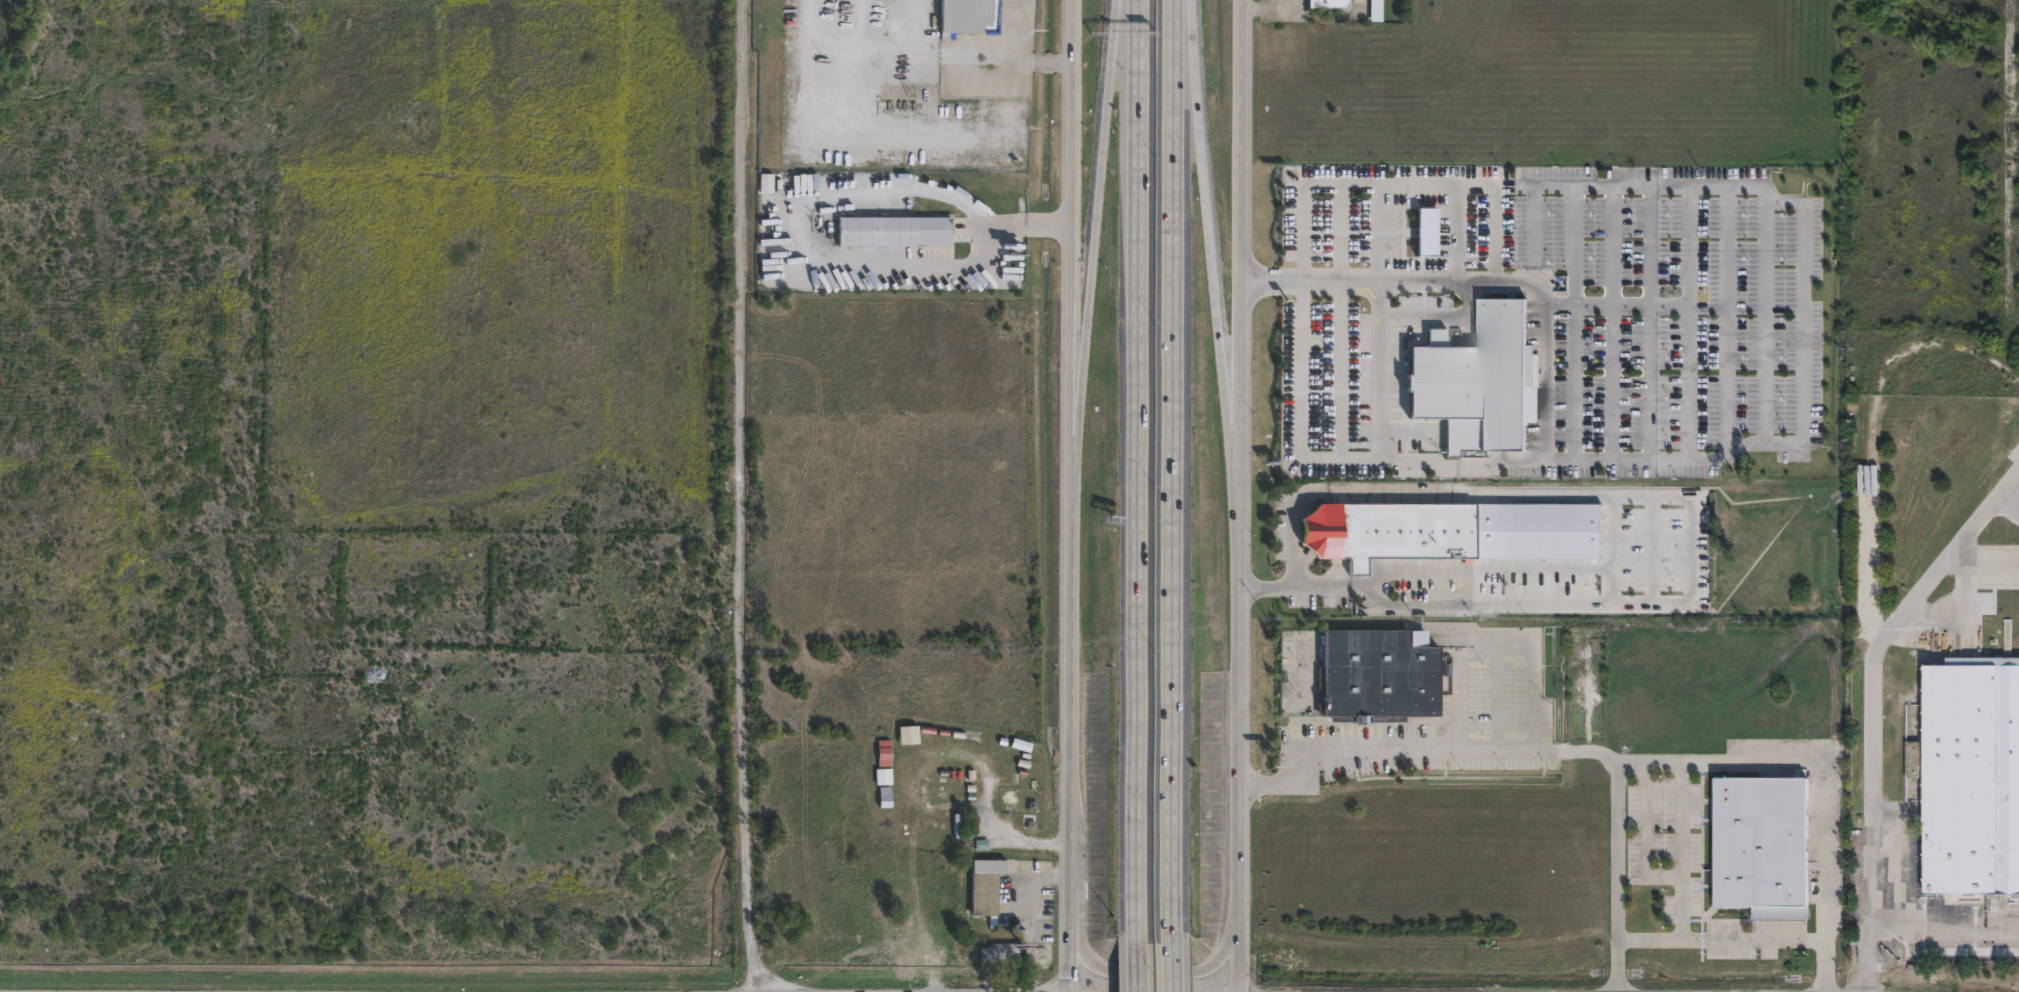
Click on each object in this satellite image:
building: (1330, 4)
building: (1378, 10)
road: (1264, 11)
building: (970, 18)
railway: (2008, 154)
road: (1403, 184)
road: (1594, 184)
road: (1015, 218)
road: (1380, 232)
road: (1457, 232)
building: (895, 233)
road: (1208, 235)
road: (1094, 240)
road: (802, 269)
road: (1765, 316)
road: (1726, 320)
road: (1438, 321)
road: (1340, 323)
road: (1379, 371)
building: (1267, 373)
road: (1544, 379)
road: (1575, 382)
road: (1613, 383)
road: (1648, 384)
building: (1476, 386)
road: (1875, 425)
road: (1689, 456)
road: (1406, 462)
road: (1138, 466)
road: (1174, 466)
road: (1067, 495)
road: (1237, 495)
road: (742, 496)
building: (1447, 533)
road: (1689, 540)
building: (1966, 547)
road: (1603, 549)
road: (1480, 572)
road: (1500, 642)
building: (1914, 673)
building: (1381, 676)
road: (1869, 702)
building: (388, 715)
building: (909, 734)
building: (996, 746)
road: (1424, 752)
building: (883, 756)
road: (1823, 767)
building: (961, 778)
building: (1974, 779)
building: (886, 780)
building: (957, 825)
road: (1644, 836)
building: (916, 837)
building: (981, 843)
building: (1758, 848)
road: (1903, 850)
road: (1681, 851)
road: (1028, 881)
building: (984, 885)
road: (1915, 923)
building: (998, 951)
road: (1137, 962)
road: (1171, 962)
road: (1615, 967)
road: (1827, 967)
road: (1151, 973)

